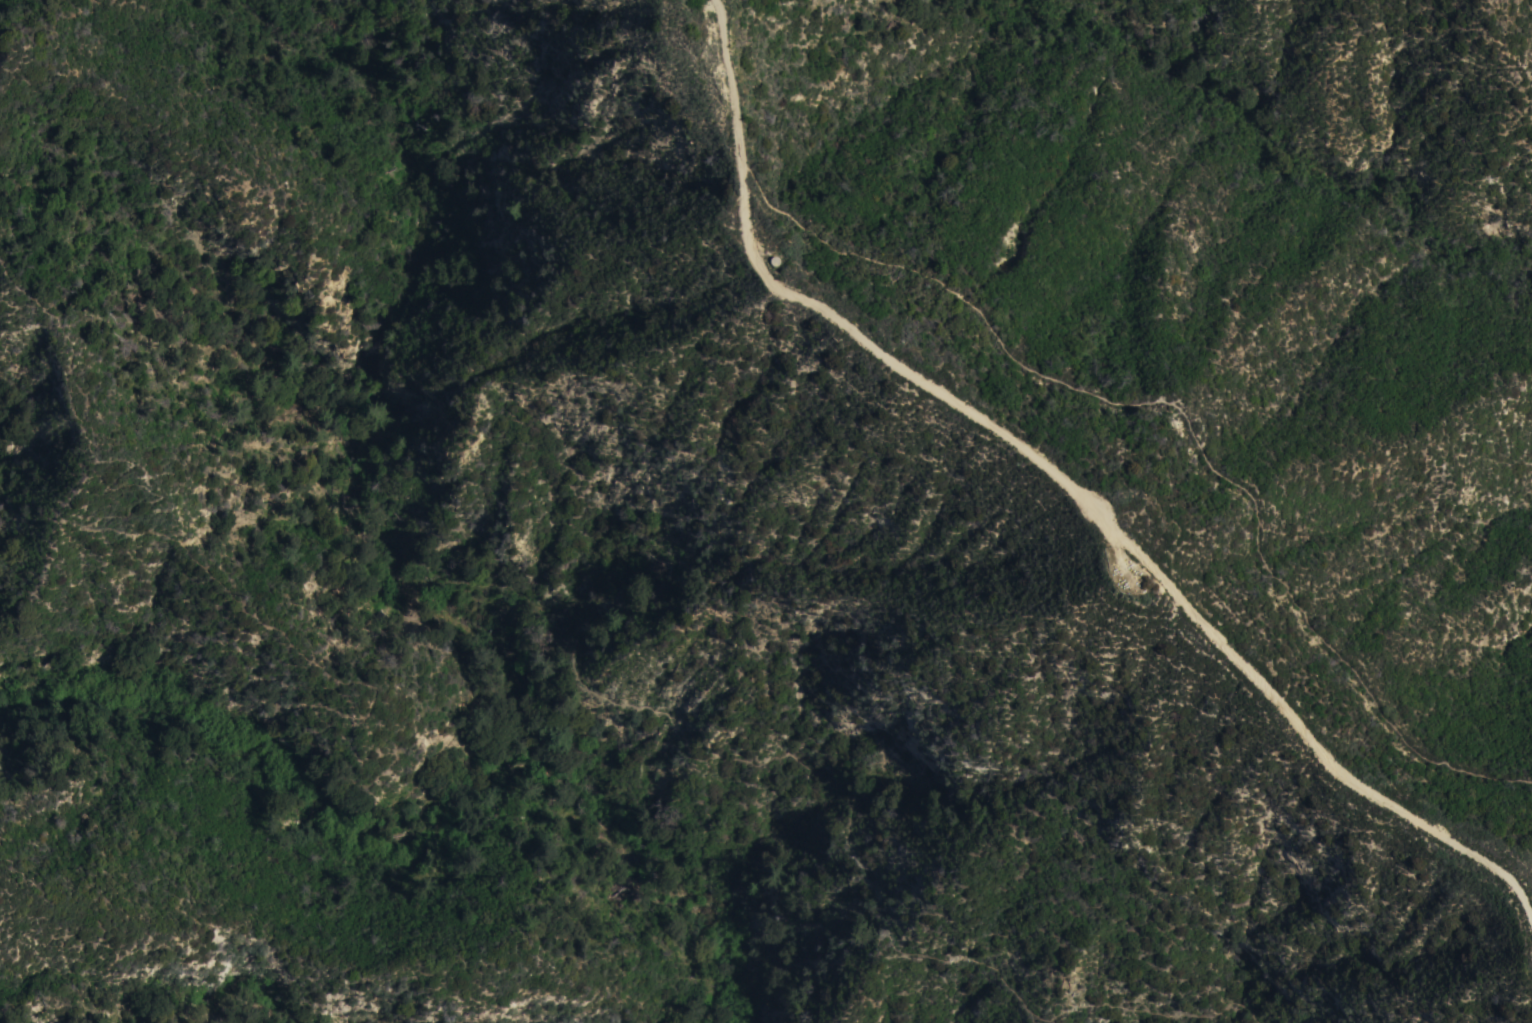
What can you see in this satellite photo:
road: (1185, 433)
road: (1065, 488)
road: (502, 583)

